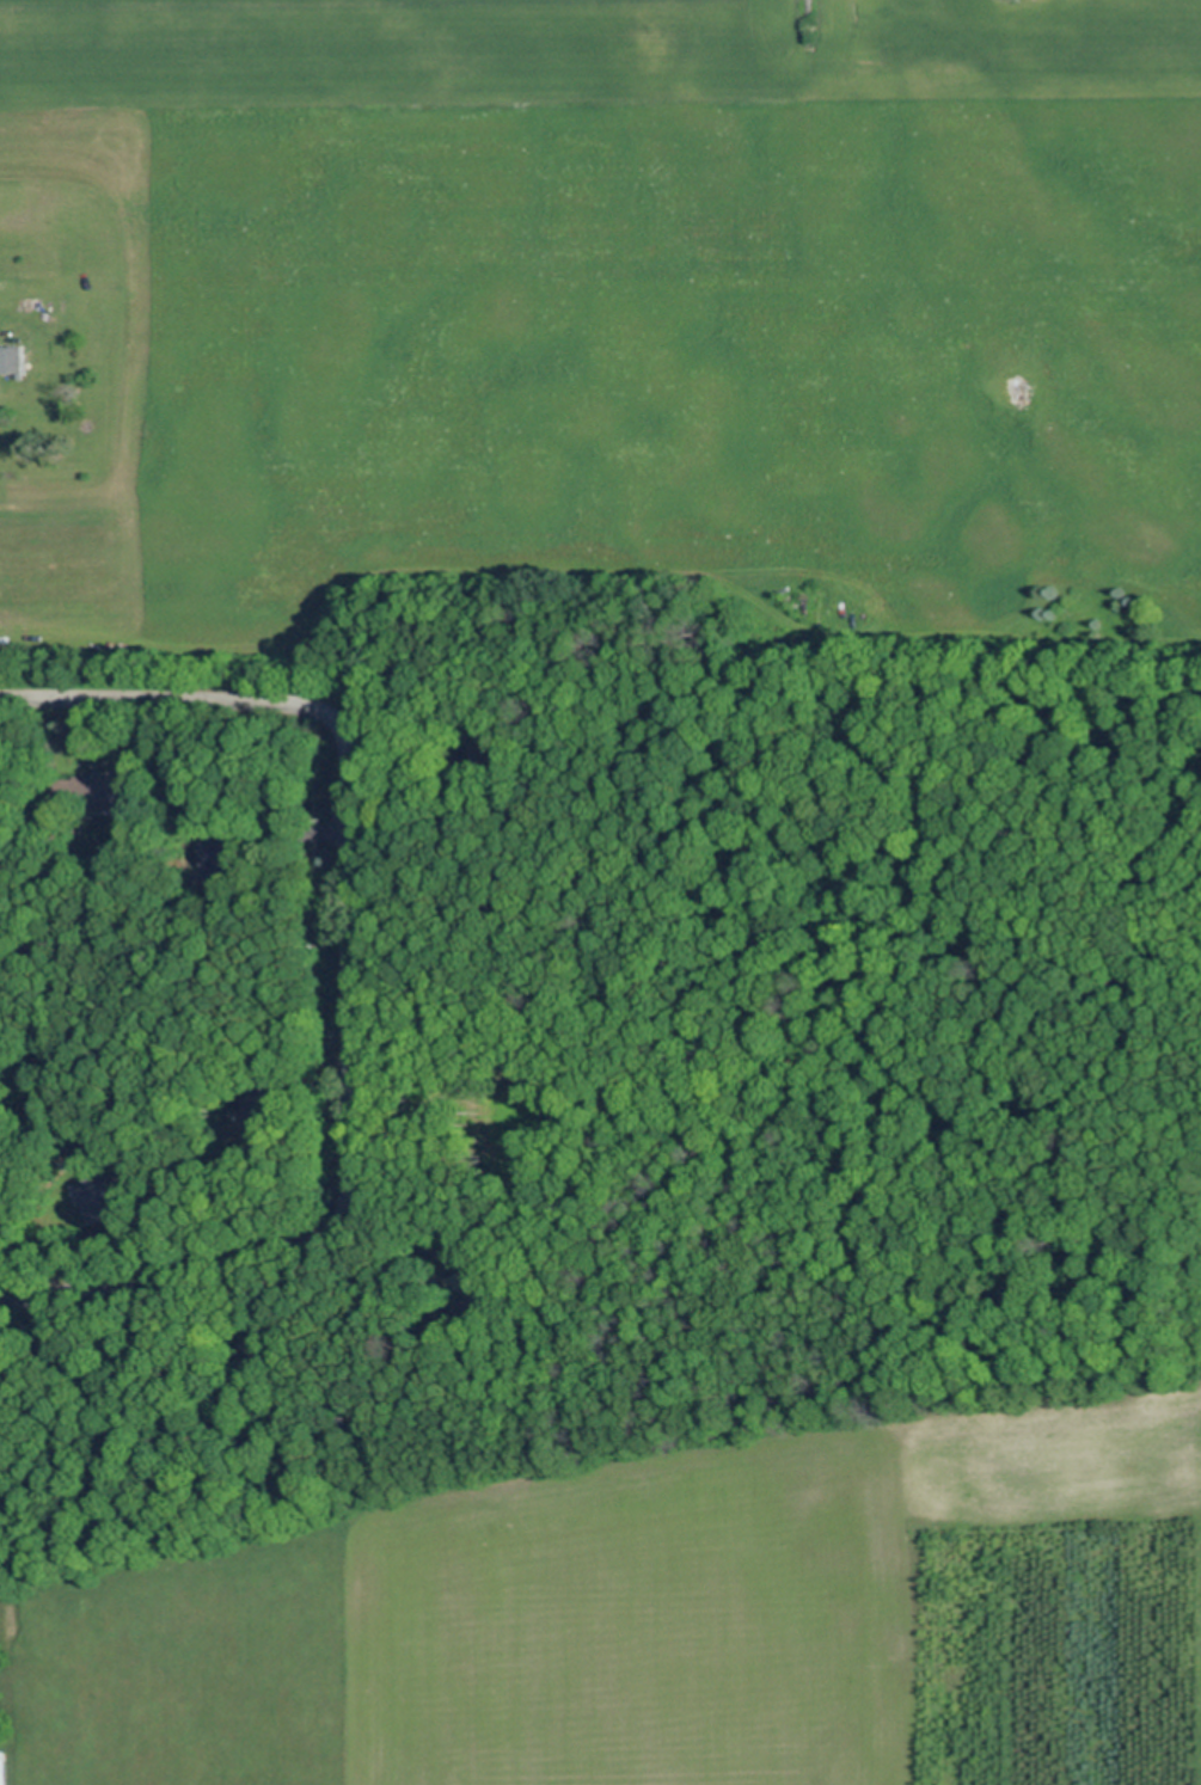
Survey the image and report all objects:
building: (13, 360)
road: (167, 700)
road: (350, 992)
road: (149, 1274)

